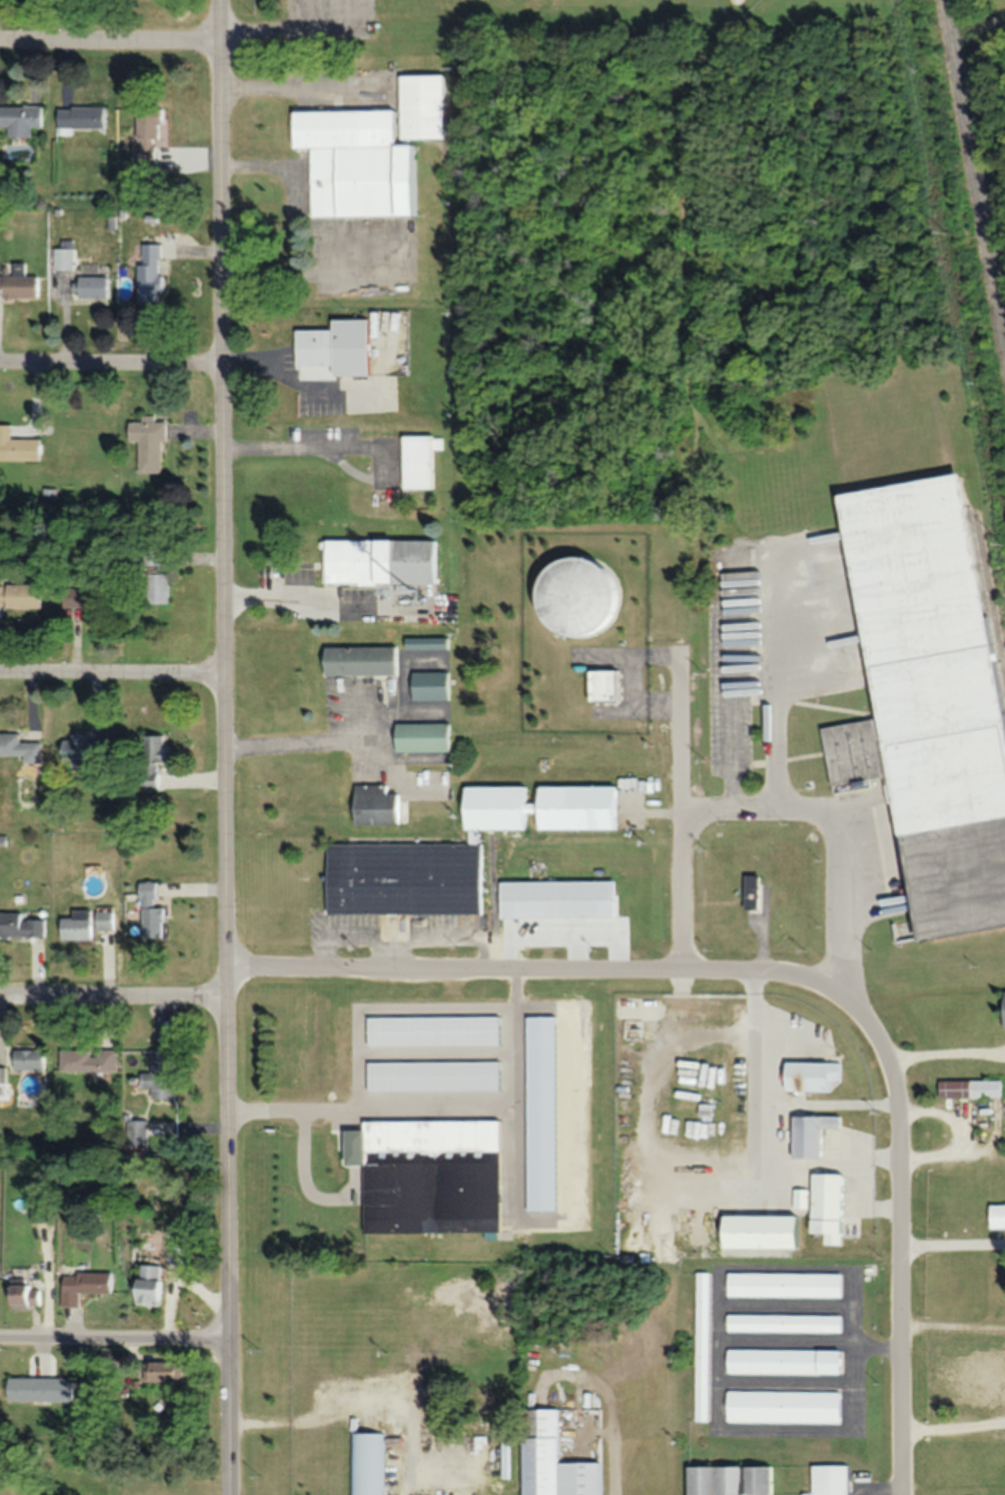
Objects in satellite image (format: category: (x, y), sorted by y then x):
park: (735, 6)
park: (592, 26)
road: (110, 43)
building: (419, 105)
building: (79, 117)
building: (20, 118)
building: (147, 140)
building: (352, 161)
railway: (973, 174)
building: (62, 258)
building: (148, 273)
building: (17, 280)
building: (92, 286)
building: (333, 346)
road: (111, 369)
building: (147, 442)
building: (17, 446)
road: (317, 447)
building: (415, 463)
building: (377, 560)
building: (154, 577)
storage tank: (578, 582)
building: (578, 586)
building: (20, 595)
building: (85, 595)
railway: (988, 600)
road: (332, 608)
building: (359, 659)
road: (112, 678)
building: (427, 685)
road: (775, 689)
building: (925, 700)
road: (680, 725)
building: (419, 736)
road: (321, 739)
building: (20, 747)
road: (225, 747)
building: (81, 748)
building: (151, 759)
building: (373, 804)
road: (838, 825)
building: (451, 852)
road: (681, 887)
building: (748, 891)
building: (554, 899)
building: (149, 911)
building: (104, 919)
building: (20, 925)
building: (76, 925)
road: (553, 971)
road: (113, 1001)
building: (1002, 1009)
building: (28, 1059)
building: (87, 1060)
building: (159, 1074)
building: (2, 1075)
building: (807, 1075)
building: (966, 1088)
road: (368, 1099)
building: (136, 1133)
building: (806, 1134)
building: (429, 1176)
building: (798, 1198)
building: (824, 1206)
building: (996, 1215)
building: (755, 1231)
building: (78, 1252)
road: (901, 1254)
road: (719, 1267)
building: (782, 1283)
building: (84, 1285)
building: (146, 1291)
building: (22, 1292)
road: (785, 1295)
building: (782, 1322)
road: (785, 1329)
road: (876, 1339)
road: (114, 1340)
building: (700, 1345)
building: (114, 1359)
building: (781, 1361)
building: (160, 1372)
road: (786, 1372)
building: (40, 1391)
building: (781, 1406)
building: (550, 1460)
building: (366, 1464)
building: (727, 1480)
building: (827, 1480)

